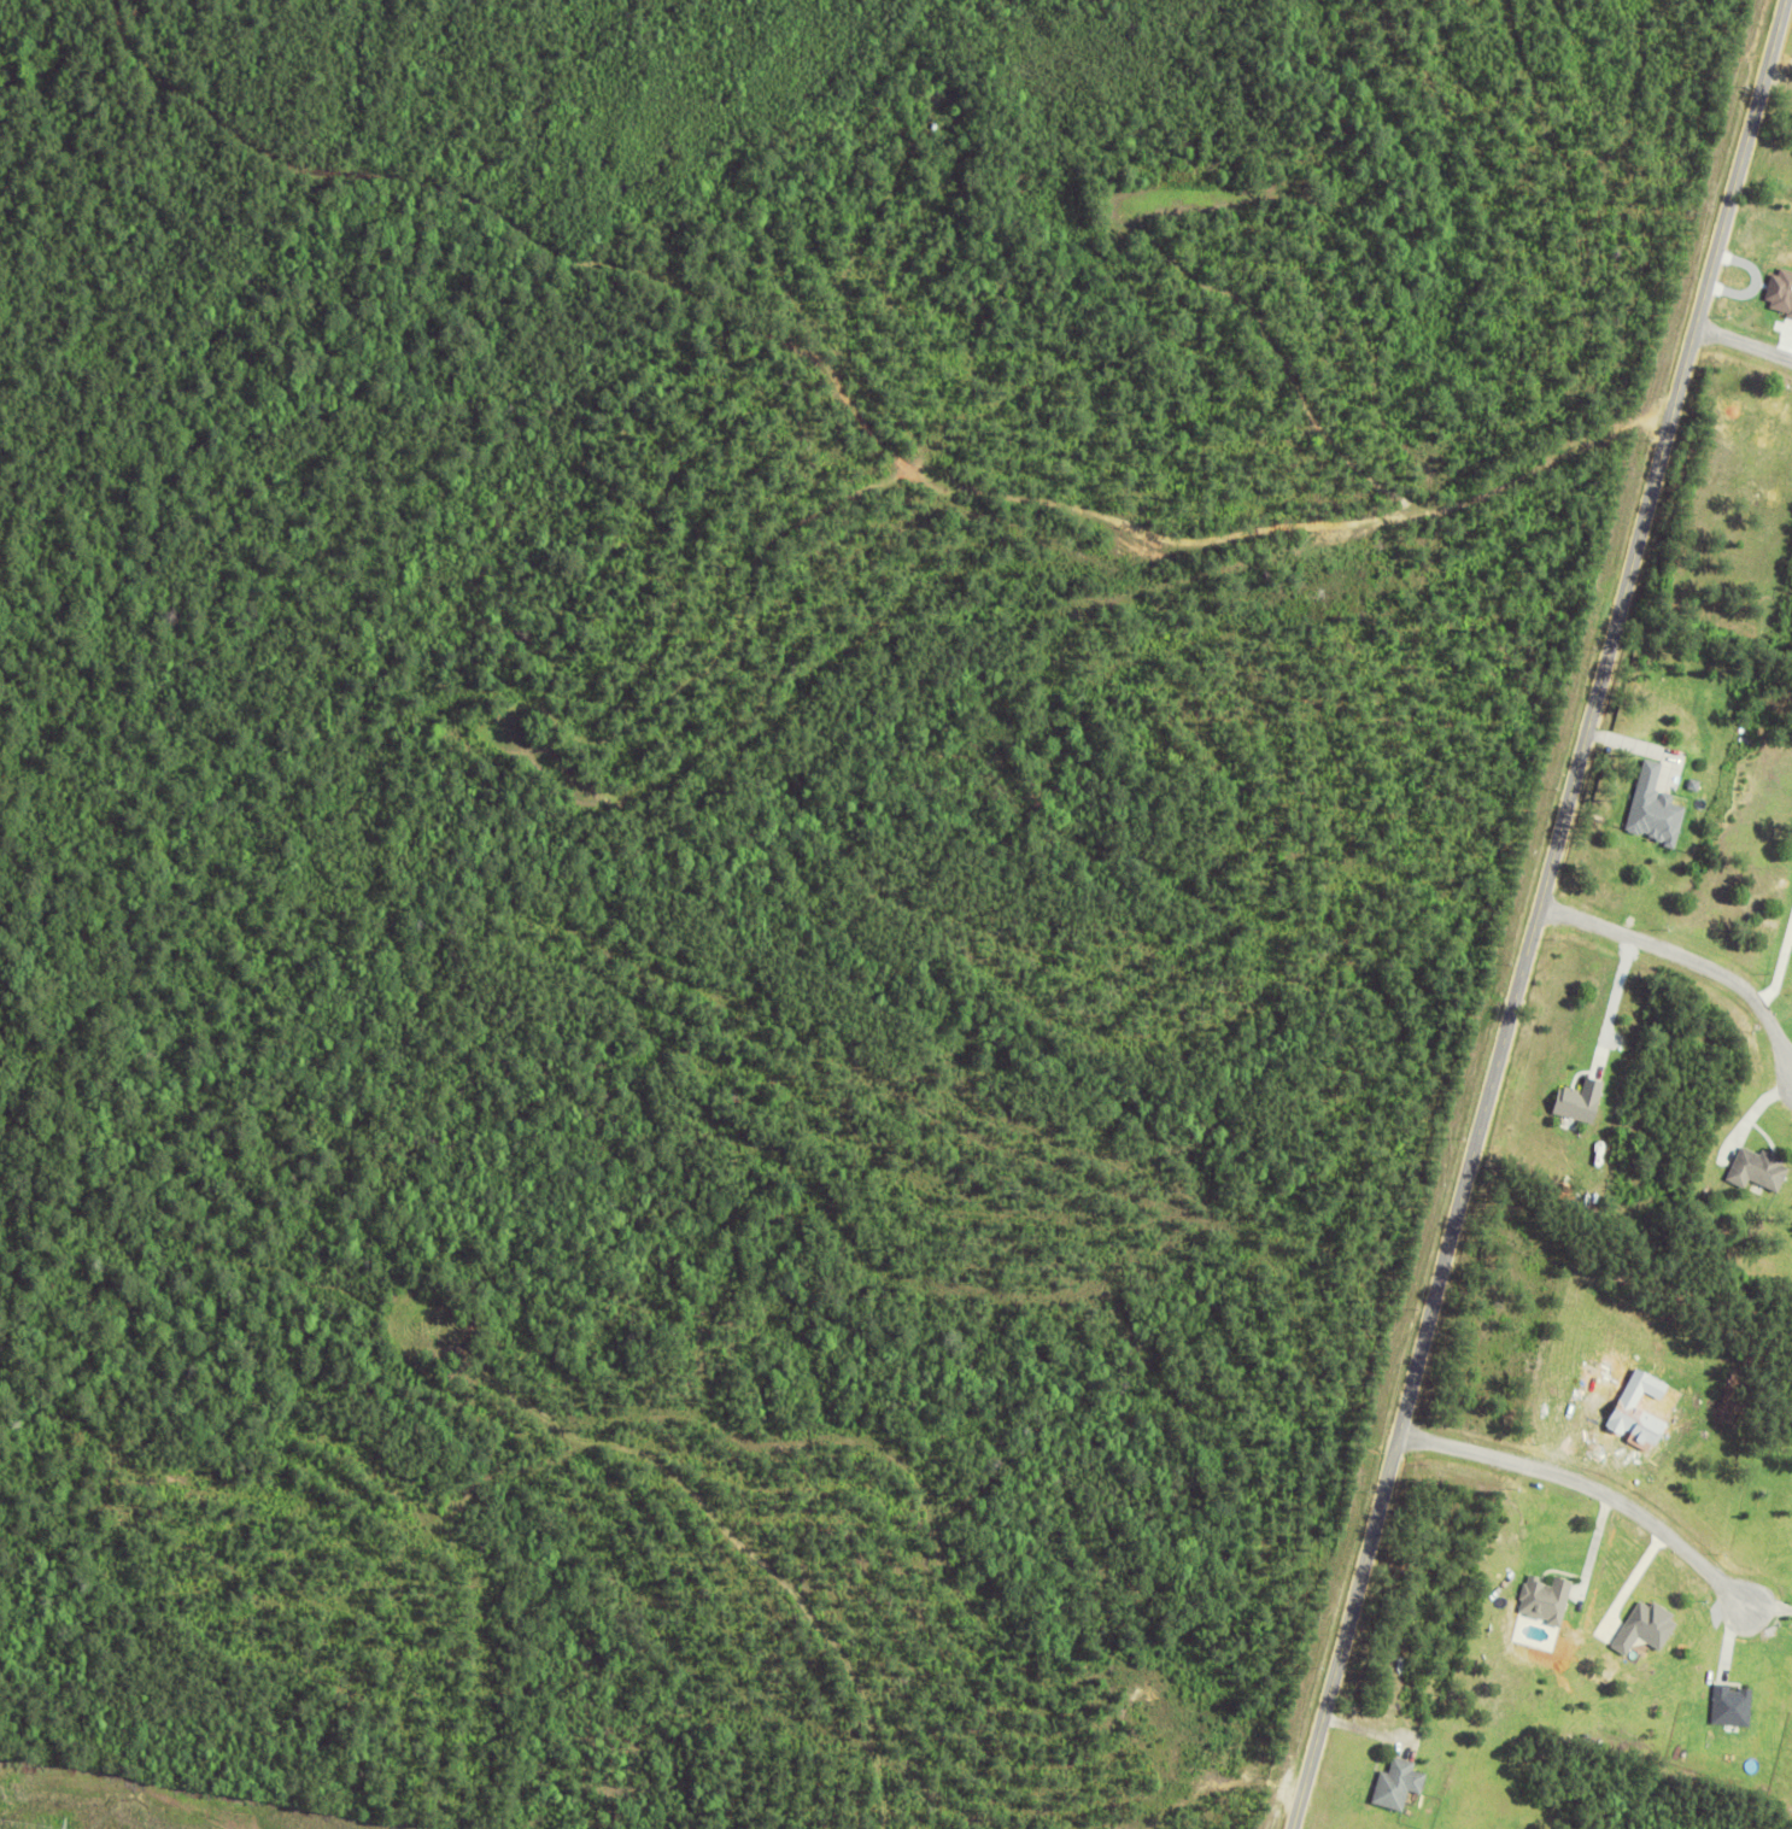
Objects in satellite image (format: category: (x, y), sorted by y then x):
road: (1746, 344)
building: (1658, 807)
road: (1539, 914)
road: (1686, 957)
building: (1583, 1101)
building: (1761, 1169)
road: (1589, 1487)
road: (1593, 1549)
road: (1633, 1583)
building: (1550, 1598)
road: (1769, 1606)
building: (1650, 1626)
road: (1729, 1641)
building: (1734, 1705)
building: (1402, 1783)

